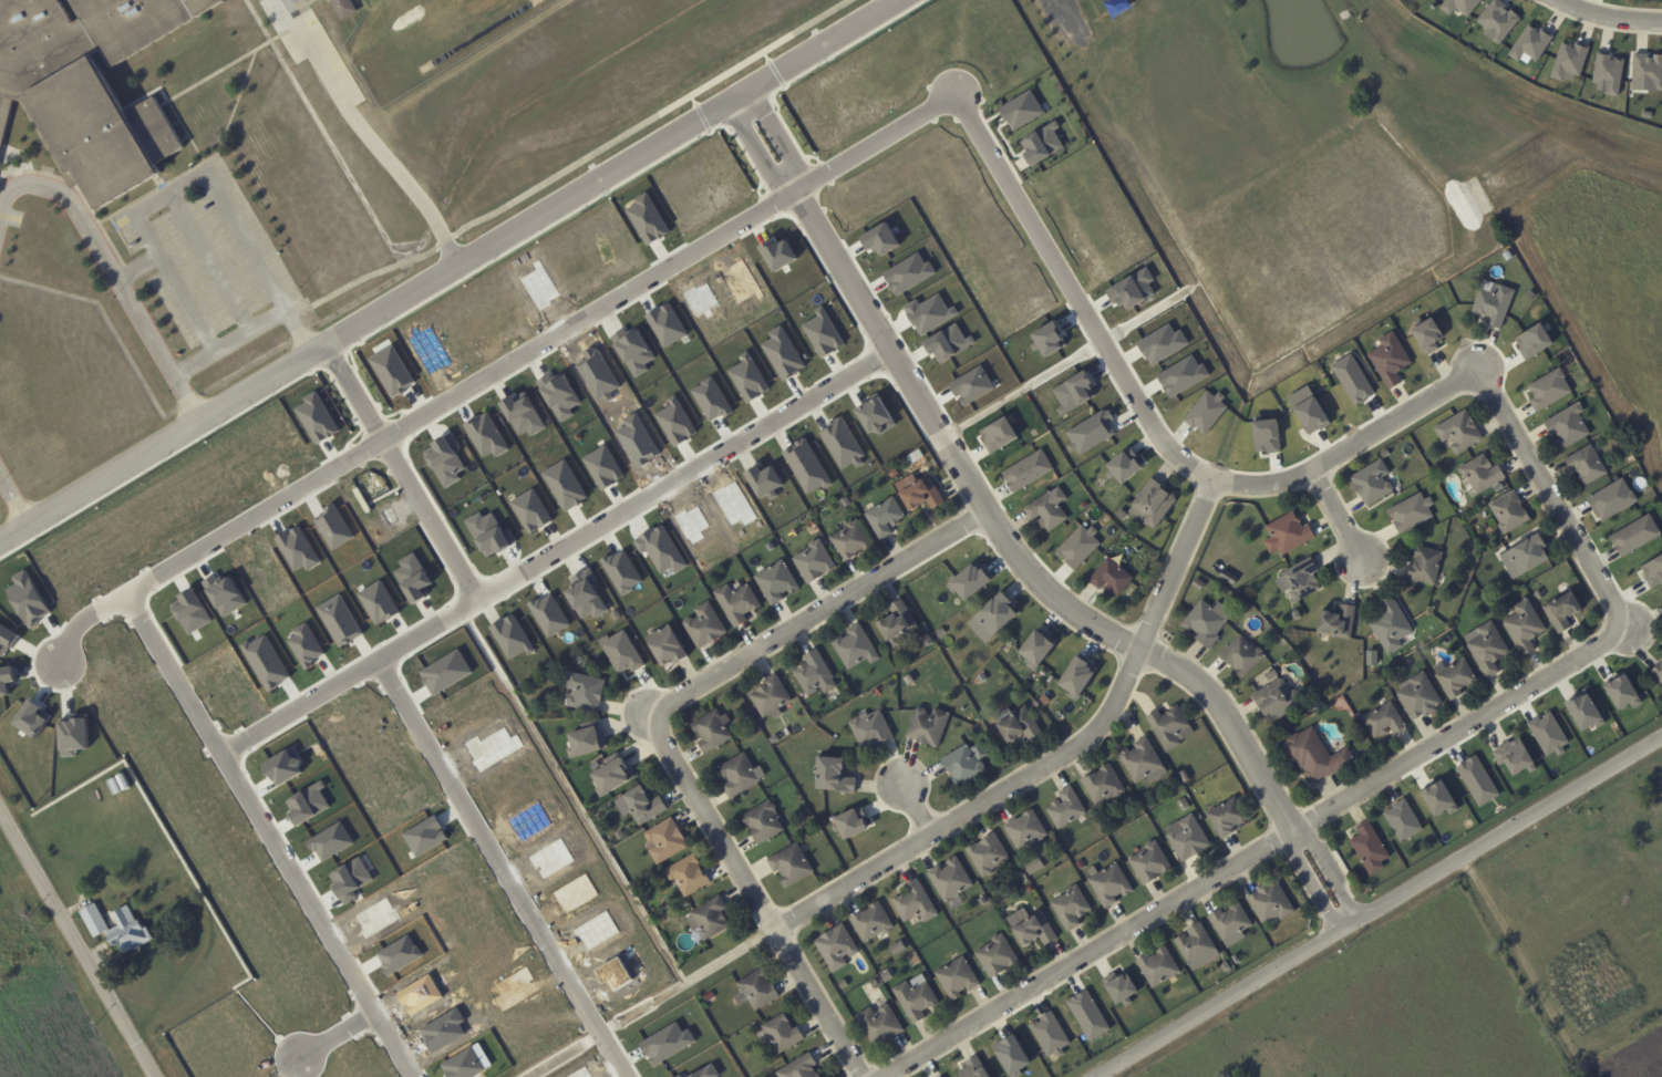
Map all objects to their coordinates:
building: (1457, 6)
building: (347, 8)
road: (1610, 15)
road: (1069, 21)
building: (1495, 21)
building: (1528, 43)
parking lot: (313, 48)
building: (1567, 61)
building: (1645, 72)
building: (1606, 74)
park: (1230, 79)
building: (92, 85)
building: (1019, 110)
building: (6, 123)
road: (367, 135)
building: (1039, 142)
road: (574, 166)
road: (196, 178)
road: (794, 188)
road: (68, 198)
building: (644, 218)
building: (875, 238)
parking lot: (207, 250)
building: (774, 252)
road: (210, 261)
road: (137, 266)
road: (450, 270)
building: (907, 273)
building: (1129, 288)
building: (1490, 301)
building: (928, 312)
building: (664, 323)
building: (820, 332)
building: (1423, 335)
building: (1043, 339)
road: (229, 341)
building: (943, 341)
building: (1530, 341)
building: (1159, 343)
road: (158, 349)
building: (631, 350)
building: (782, 352)
building: (1387, 359)
building: (389, 370)
road: (499, 370)
building: (749, 374)
building: (1180, 375)
building: (1350, 379)
building: (970, 385)
building: (1547, 389)
building: (725, 390)
building: (1071, 391)
building: (558, 396)
building: (710, 398)
building: (1304, 410)
building: (1205, 411)
building: (520, 414)
building: (870, 415)
building: (314, 416)
building: (674, 421)
building: (1567, 426)
building: (1458, 431)
building: (1090, 432)
building: (994, 433)
building: (485, 434)
building: (1263, 435)
building: (842, 443)
building: (443, 459)
building: (1121, 464)
building: (1586, 464)
building: (601, 466)
building: (805, 466)
building: (1025, 470)
road: (403, 473)
building: (1480, 473)
building: (760, 479)
road: (1274, 481)
building: (1370, 481)
building: (564, 484)
building: (917, 490)
road: (13, 499)
building: (1610, 499)
building: (1149, 504)
building: (1046, 508)
building: (529, 510)
building: (1410, 511)
building: (1508, 511)
road: (1336, 516)
building: (882, 517)
building: (489, 531)
building: (1284, 534)
building: (1632, 535)
building: (848, 539)
road: (1008, 543)
building: (1076, 546)
road: (555, 552)
building: (1521, 555)
building: (813, 560)
building: (1423, 565)
building: (620, 570)
building: (1652, 570)
building: (1109, 576)
building: (410, 577)
building: (1297, 579)
building: (775, 581)
building: (964, 581)
building: (584, 596)
building: (24, 598)
building: (735, 602)
building: (1560, 610)
building: (195, 611)
road: (817, 613)
building: (548, 614)
building: (990, 615)
building: (892, 620)
building: (1205, 621)
building: (1335, 621)
building: (703, 624)
building: (1390, 625)
building: (1524, 625)
building: (4, 635)
building: (509, 636)
building: (662, 645)
building: (854, 645)
building: (1486, 646)
building: (1032, 648)
building: (620, 651)
building: (1240, 654)
building: (1656, 671)
building: (442, 672)
building: (813, 673)
building: (1073, 676)
building: (1454, 676)
building: (6, 679)
building: (584, 691)
building: (1619, 692)
building: (1272, 695)
building: (1417, 695)
building: (767, 696)
building: (1581, 711)
building: (28, 718)
building: (1382, 719)
building: (1014, 724)
building: (926, 726)
building: (1168, 726)
building: (868, 728)
building: (710, 729)
building: (1546, 733)
building: (75, 735)
building: (587, 741)
building: (1314, 755)
building: (1513, 757)
road: (1055, 758)
building: (1142, 760)
building: (288, 764)
building: (963, 764)
building: (608, 774)
building: (737, 774)
building: (829, 775)
building: (1476, 779)
building: (1101, 784)
building: (1434, 797)
building: (304, 802)
building: (638, 805)
building: (1064, 807)
road: (917, 808)
building: (1225, 817)
building: (1401, 819)
building: (761, 821)
building: (848, 821)
building: (1024, 829)
road: (269, 835)
building: (1185, 837)
building: (663, 839)
building: (331, 841)
building: (1367, 848)
road: (1255, 850)
building: (985, 853)
building: (1147, 862)
building: (788, 864)
building: (1032, 864)
road: (502, 868)
road: (1329, 868)
building: (687, 874)
building: (948, 878)
building: (347, 879)
road: (1309, 881)
building: (1107, 884)
road: (757, 894)
building: (912, 901)
building: (1269, 901)
building: (1069, 907)
road: (1379, 907)
building: (706, 918)
building: (869, 921)
building: (1229, 923)
building: (115, 926)
building: (1029, 926)
road: (78, 943)
building: (1195, 945)
building: (835, 946)
building: (895, 947)
building: (994, 955)
building: (1156, 965)
building: (956, 977)
building: (1117, 986)
building: (754, 988)
building: (913, 998)
building: (1086, 1015)
building: (880, 1023)
building: (781, 1033)
road: (336, 1034)
building: (1047, 1034)
building: (664, 1043)
building: (1007, 1055)
building: (797, 1067)
building: (970, 1068)
building: (939, 1076)

